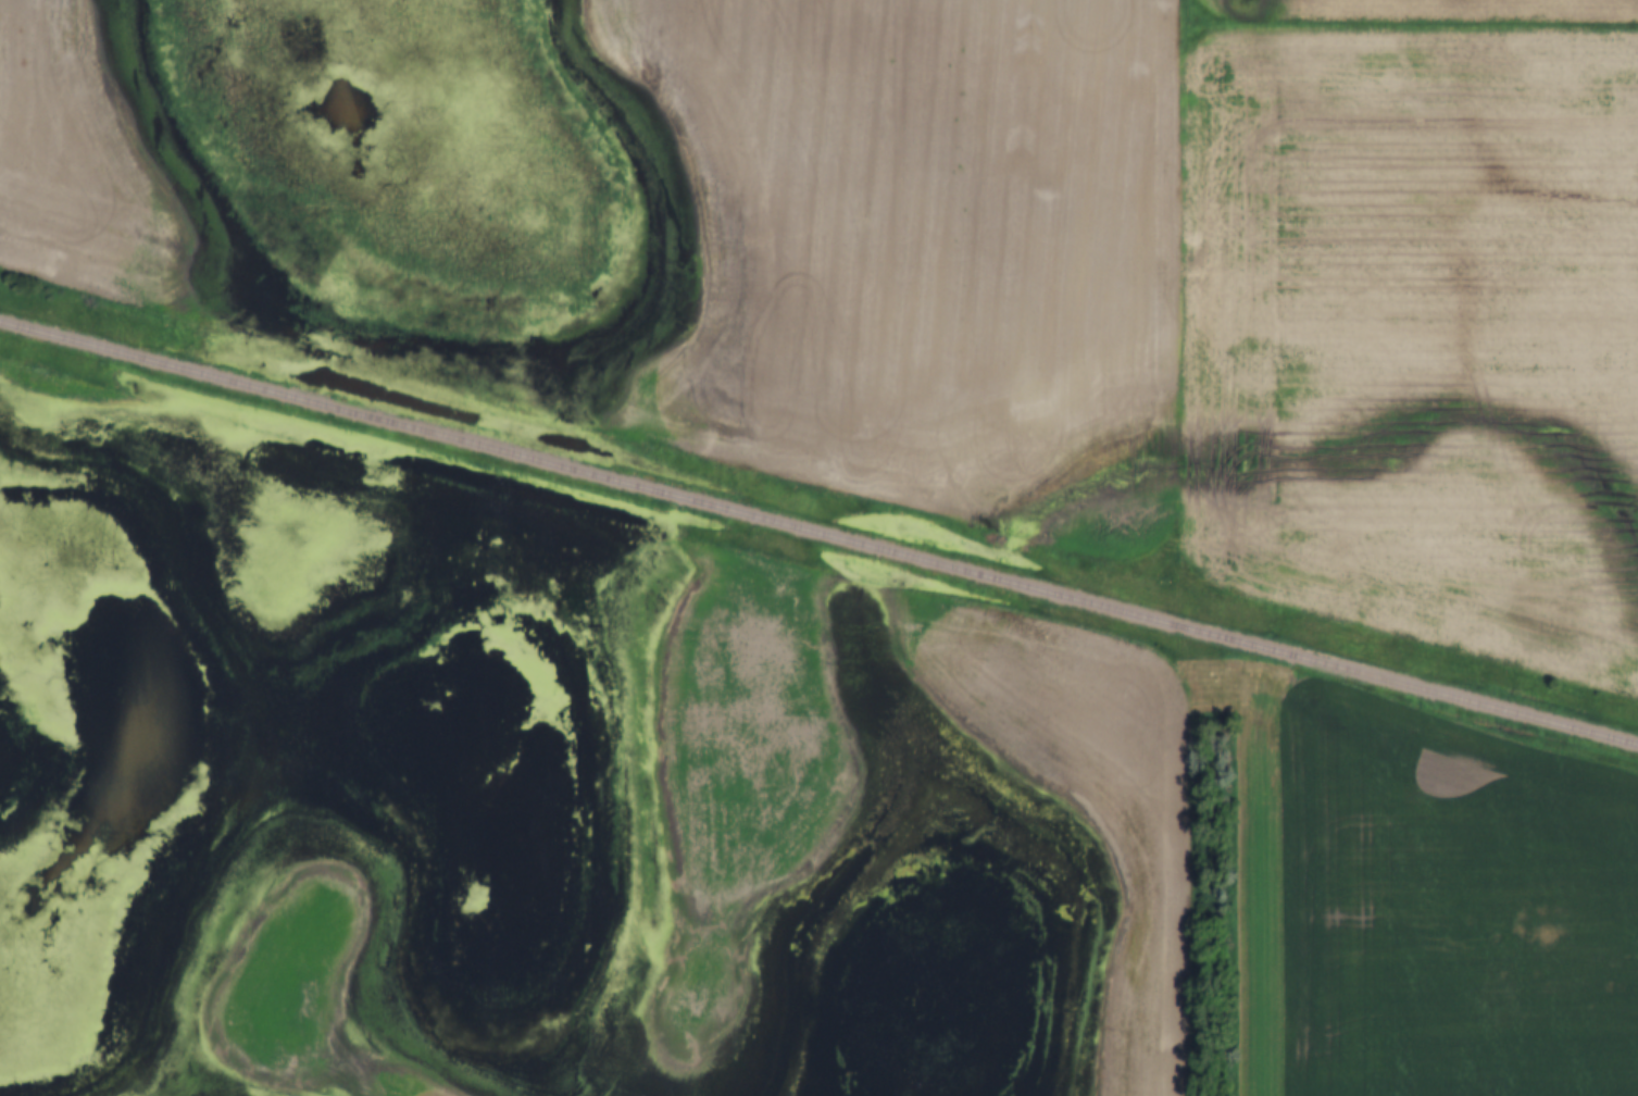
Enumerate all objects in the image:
railway: (818, 533)

